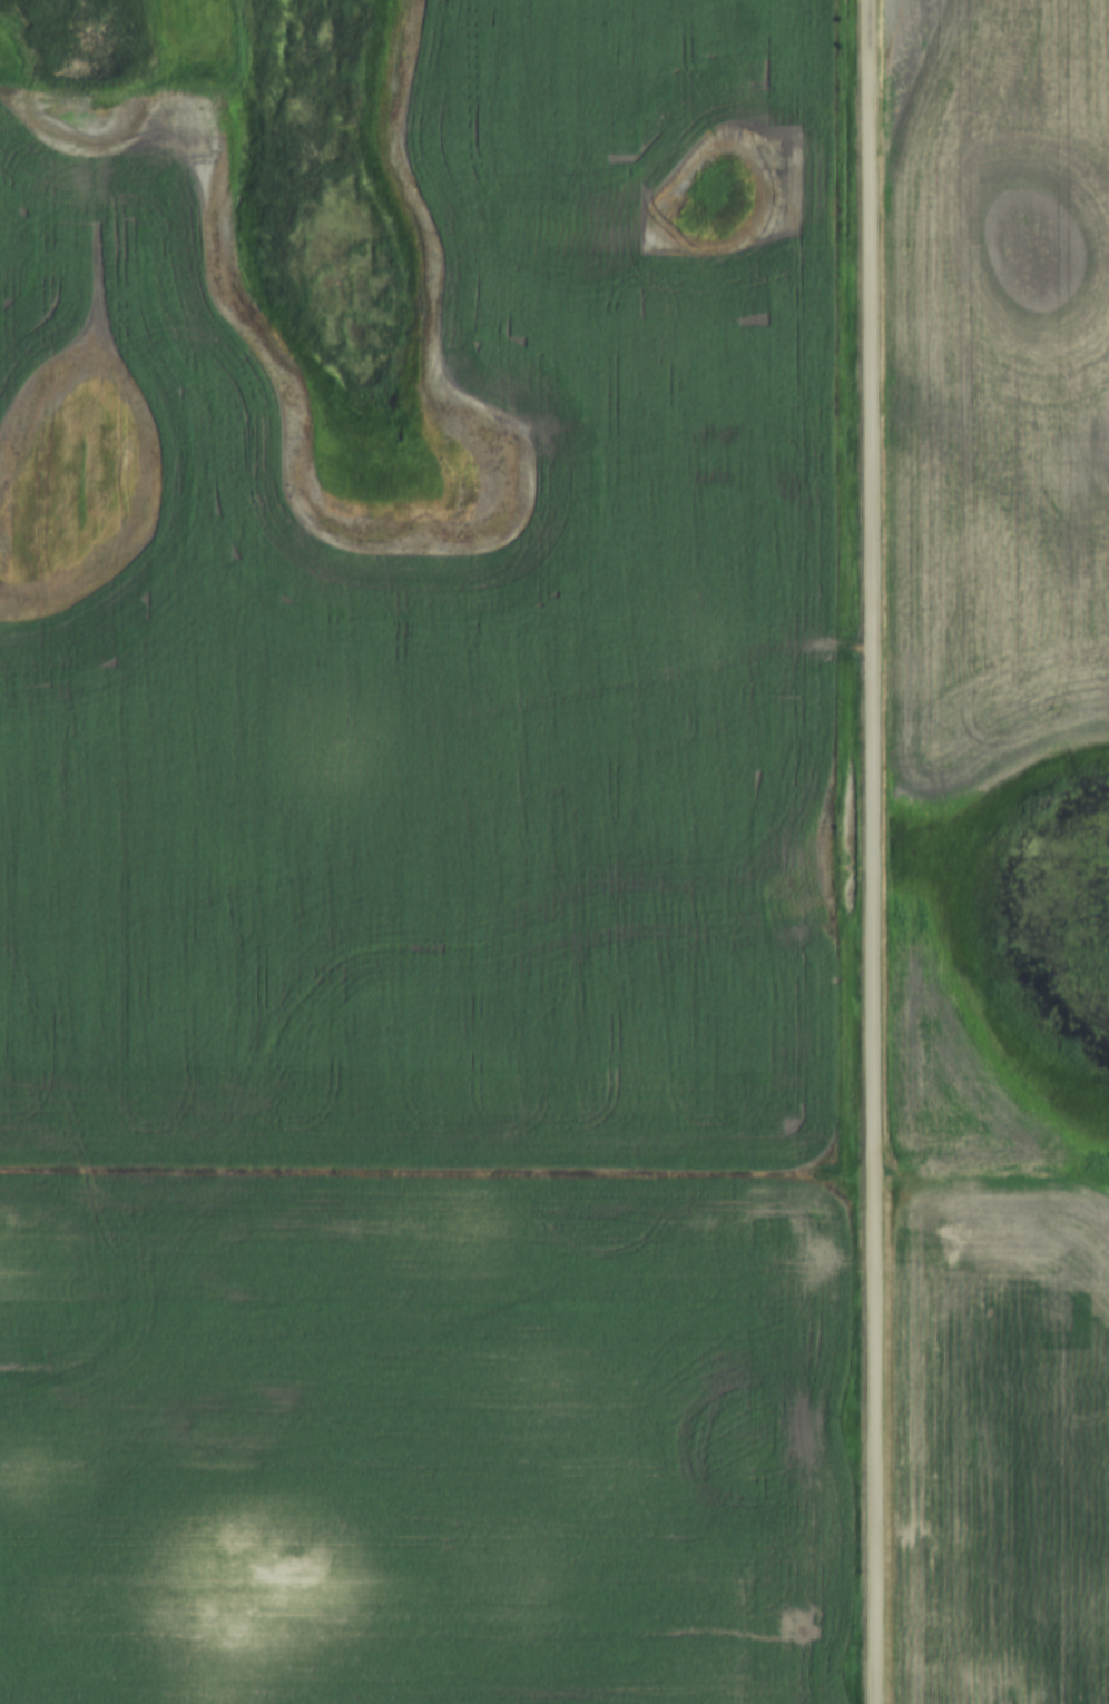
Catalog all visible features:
road: (875, 851)

